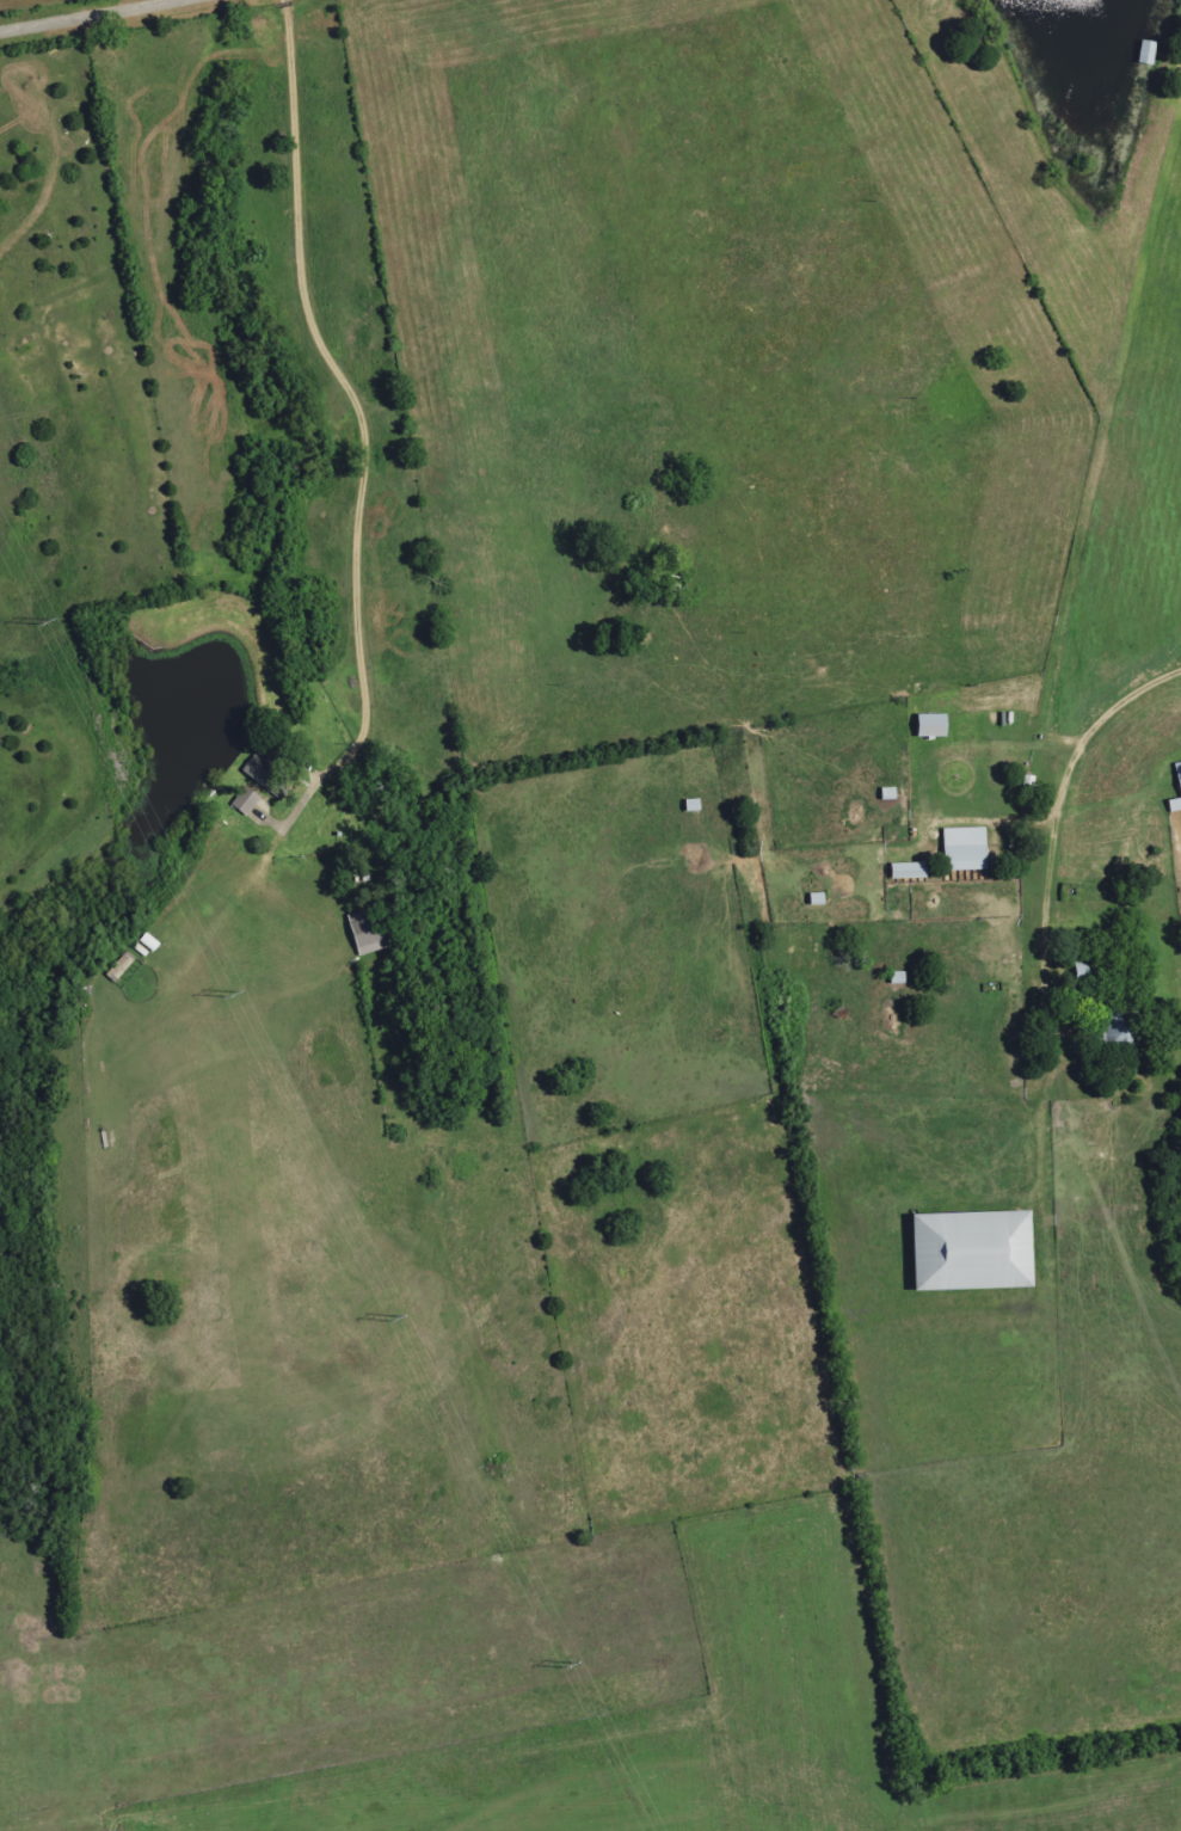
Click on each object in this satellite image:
road: (92, 14)
road: (352, 397)
power tower: (41, 622)
building: (934, 726)
building: (1180, 769)
building: (265, 773)
building: (248, 801)
building: (1176, 805)
road: (1052, 815)
building: (967, 849)
building: (911, 871)
building: (370, 932)
building: (123, 967)
power tower: (227, 994)
building: (1119, 1025)
building: (976, 1252)
power tower: (390, 1319)
power tower: (562, 1664)

